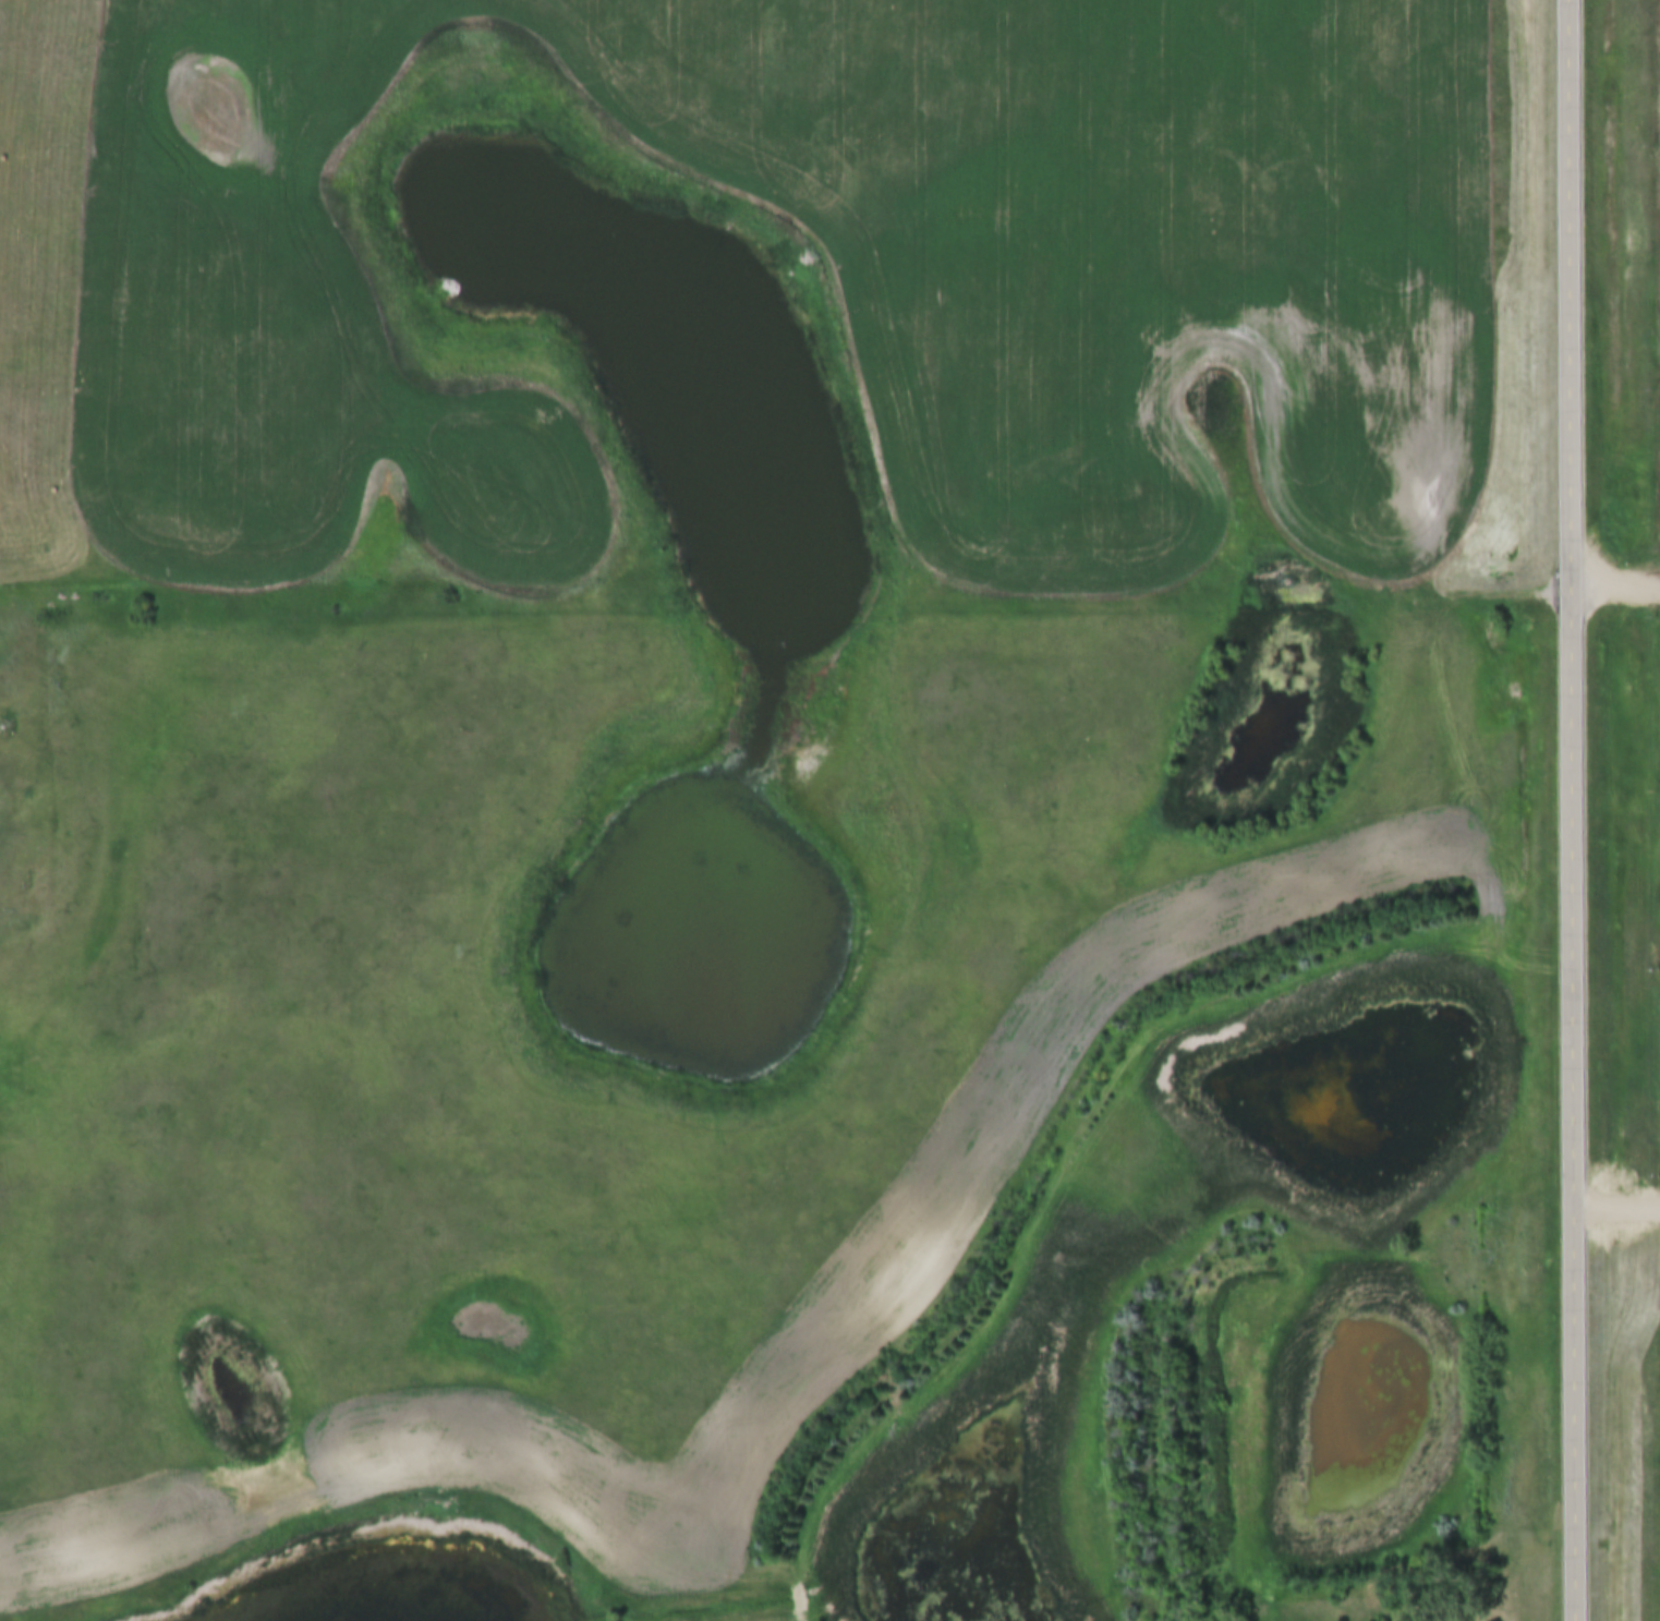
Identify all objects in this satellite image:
road: (1613, 583)
road: (1568, 810)

